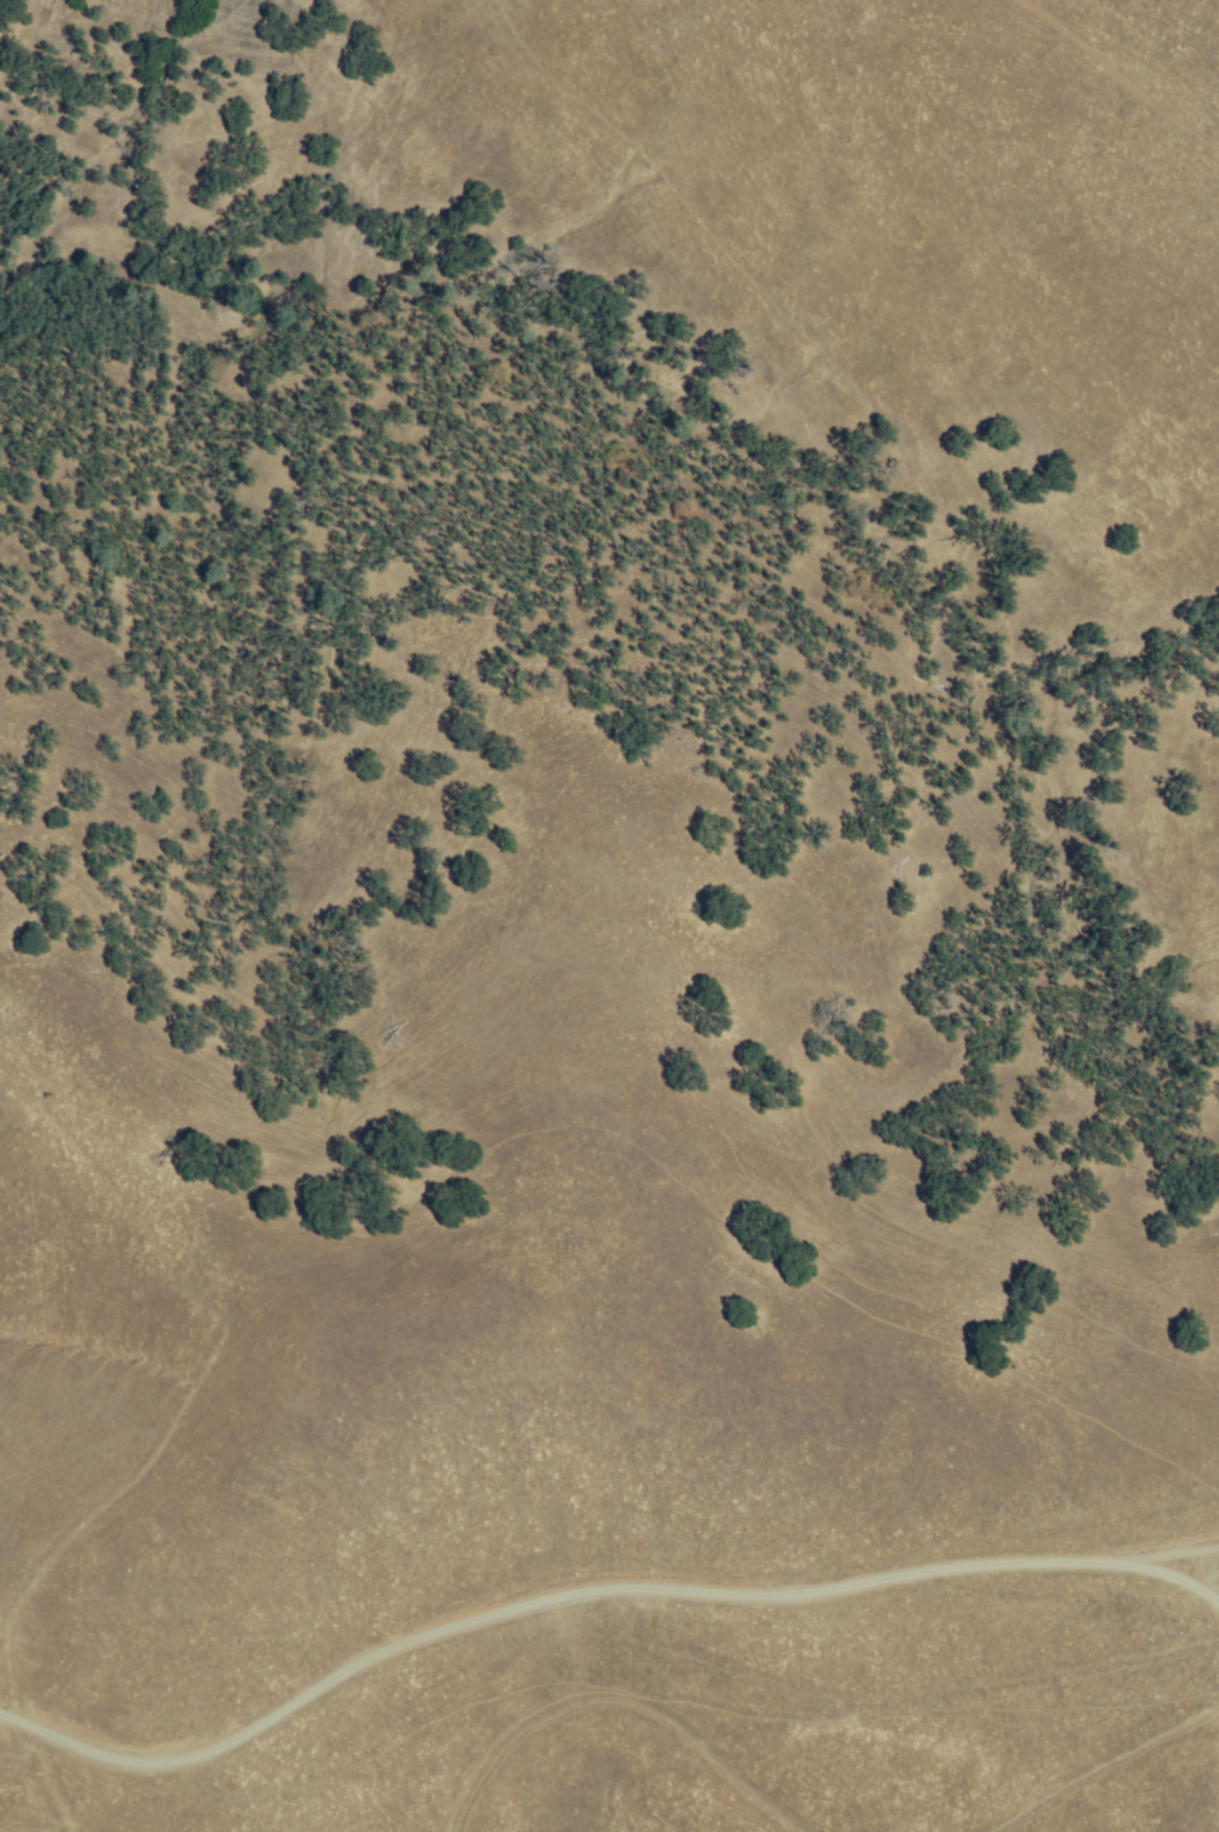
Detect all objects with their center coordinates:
road: (591, 1594)

